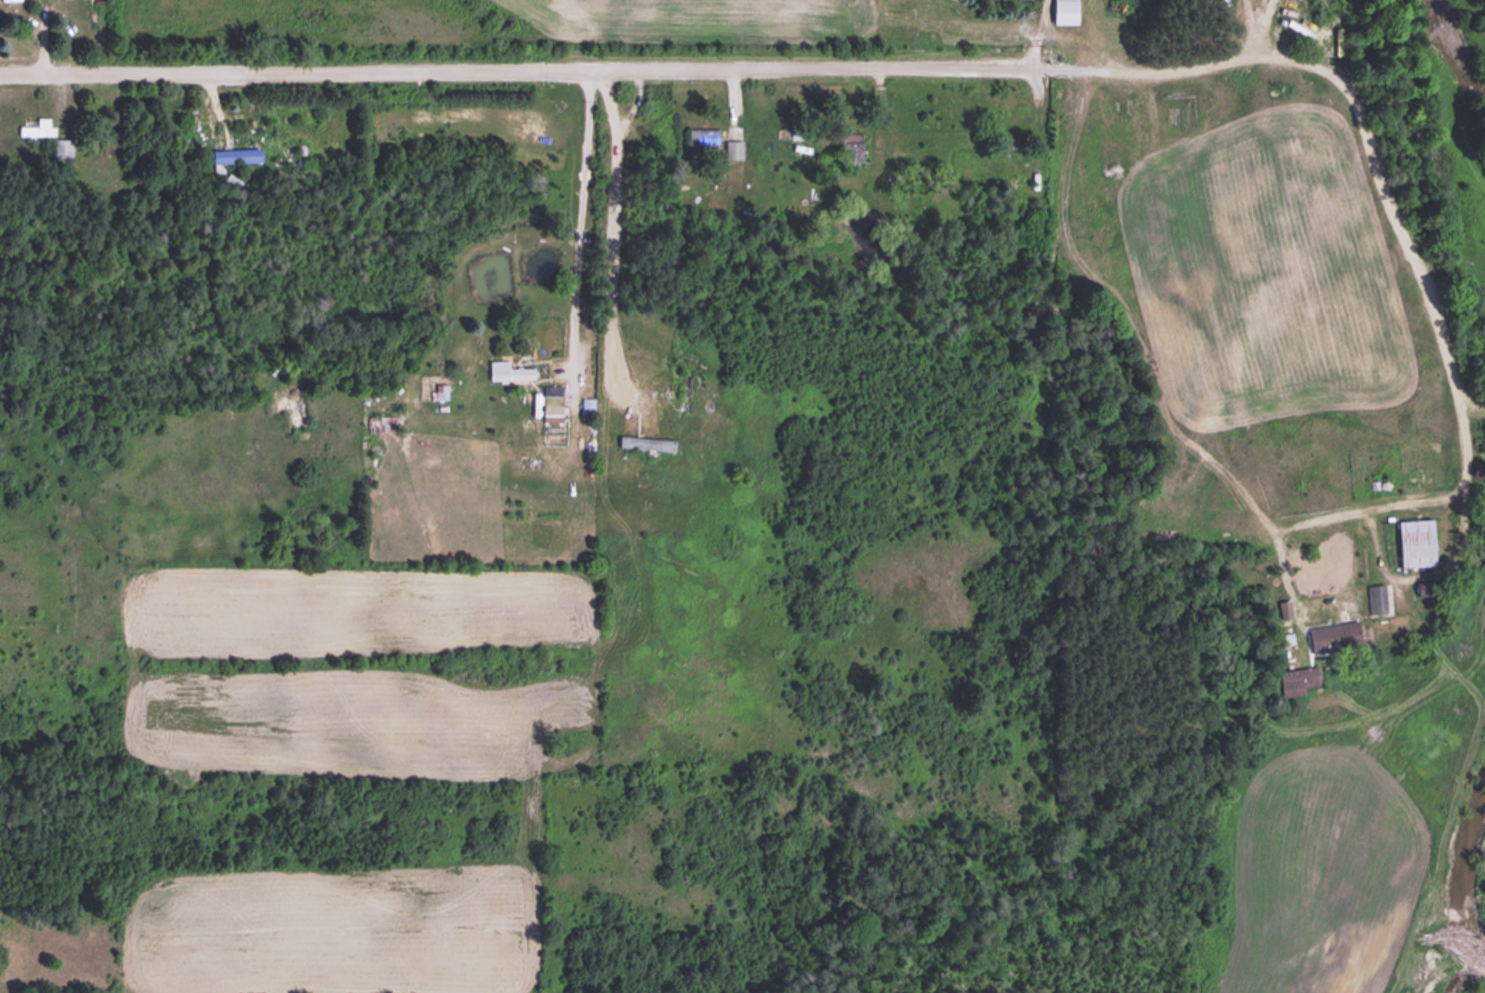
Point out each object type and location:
river: (1482, 2)
building: (1061, 11)
road: (794, 59)
building: (36, 127)
building: (701, 135)
building: (60, 147)
building: (731, 148)
building: (850, 148)
building: (233, 154)
road: (579, 353)
road: (743, 354)
building: (506, 371)
building: (682, 387)
building: (551, 402)
building: (381, 422)
building: (645, 442)
building: (1412, 541)
building: (1375, 598)
building: (1329, 636)
river: (1480, 970)

